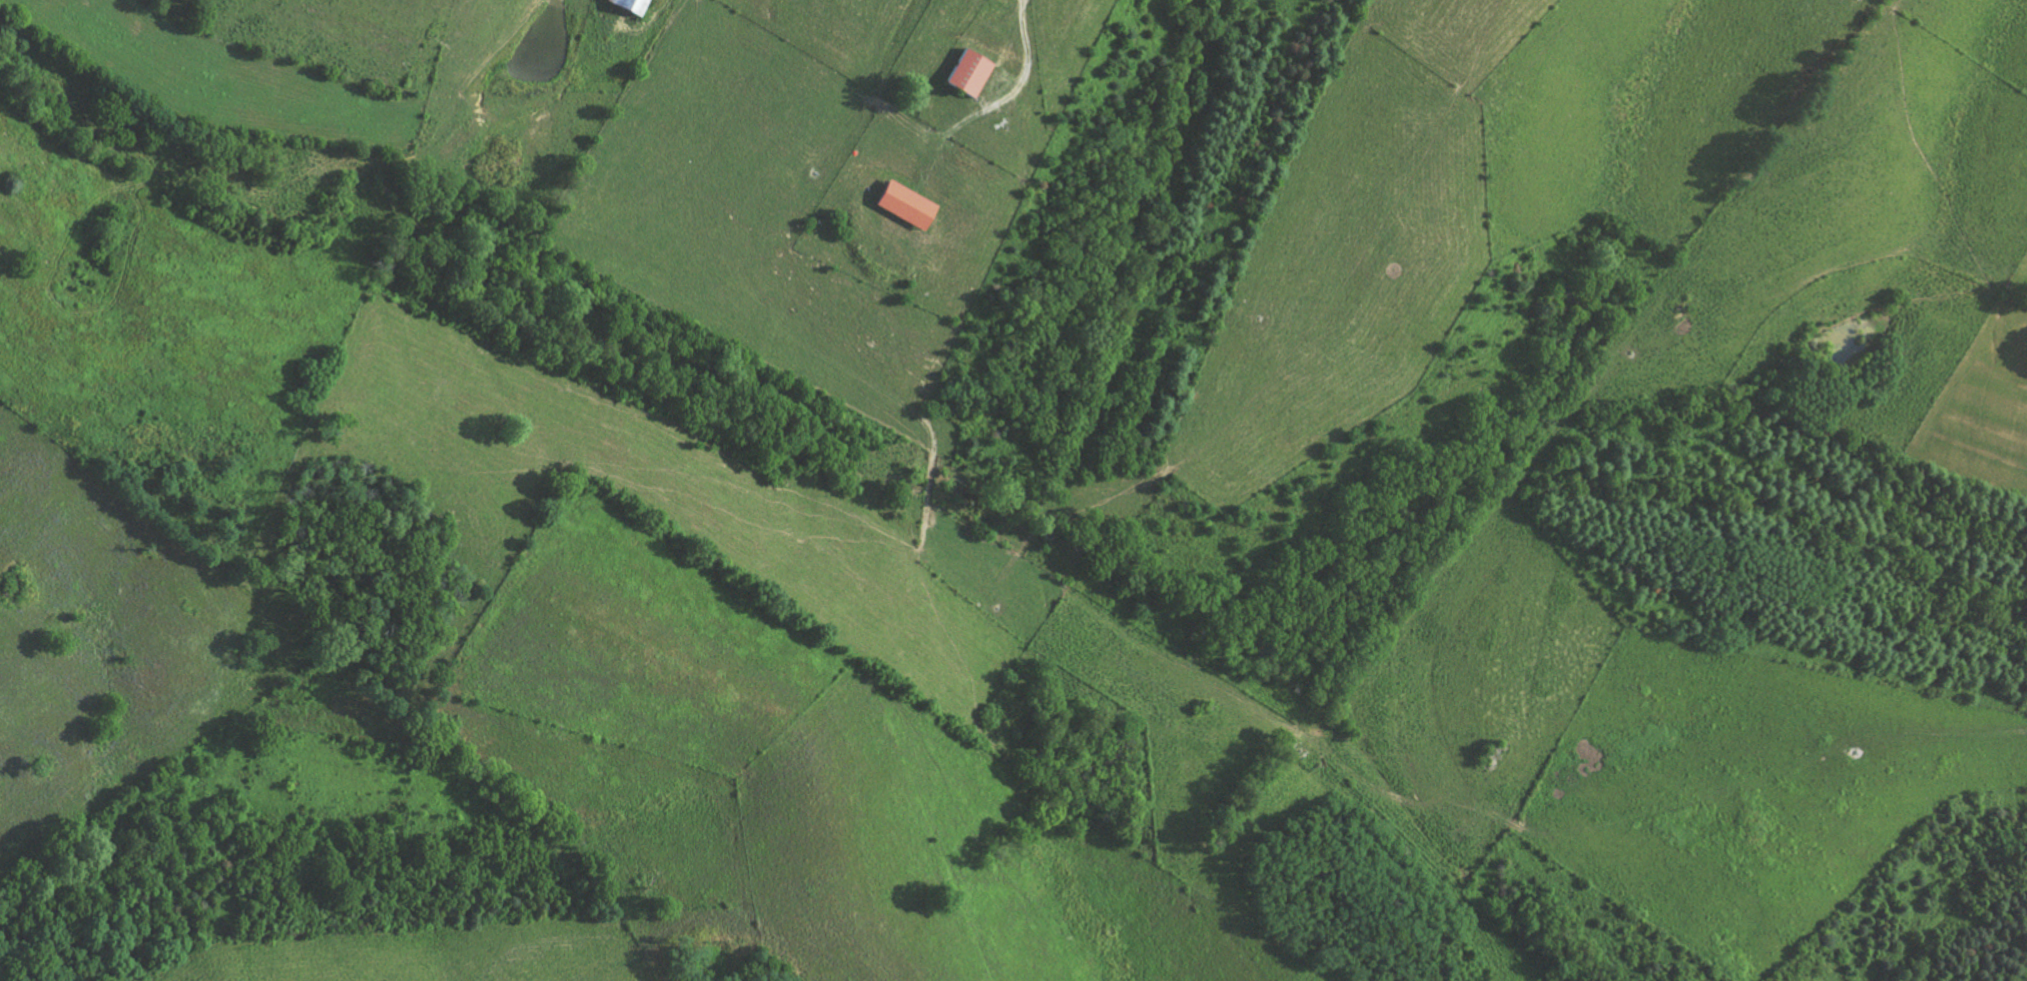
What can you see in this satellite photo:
building: (632, 6)
road: (1028, 59)
building: (972, 73)
building: (908, 204)

